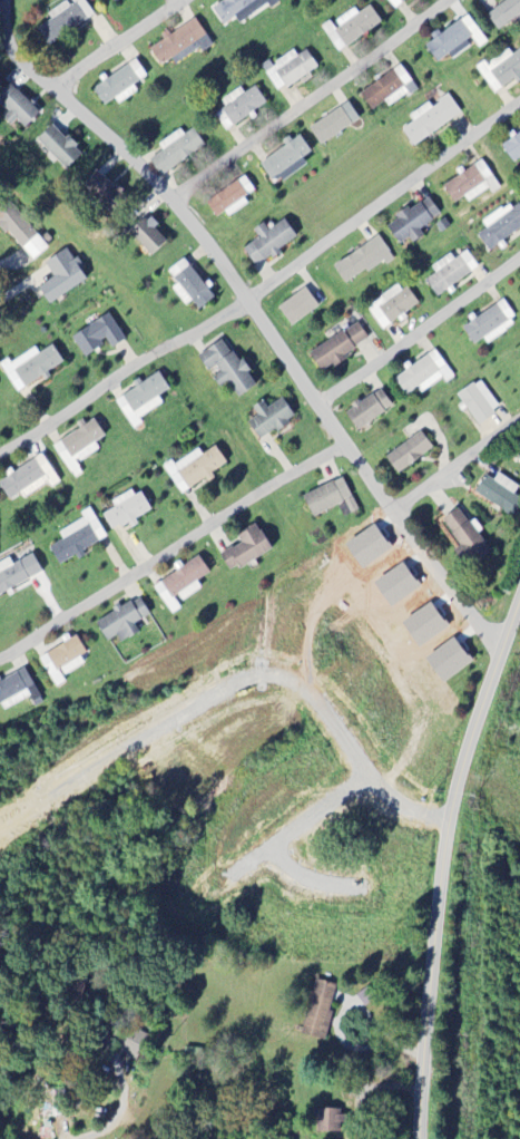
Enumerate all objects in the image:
building: (116, 0)
building: (395, 2)
building: (239, 10)
building: (504, 12)
building: (65, 20)
building: (351, 28)
building: (455, 40)
building: (180, 45)
road: (129, 48)
building: (290, 70)
building: (501, 70)
building: (120, 85)
building: (389, 89)
road: (312, 99)
building: (239, 107)
building: (17, 108)
building: (431, 119)
building: (334, 124)
building: (59, 148)
building: (512, 148)
building: (176, 150)
building: (285, 157)
building: (471, 184)
building: (102, 191)
building: (230, 199)
road: (385, 204)
building: (413, 222)
building: (500, 226)
building: (21, 232)
building: (148, 236)
building: (268, 242)
building: (363, 261)
building: (450, 273)
building: (62, 276)
building: (189, 286)
building: (519, 289)
building: (391, 306)
building: (297, 308)
road: (257, 310)
building: (490, 324)
road: (422, 331)
building: (98, 337)
building: (339, 348)
building: (30, 368)
building: (226, 368)
building: (424, 374)
road: (126, 377)
building: (141, 400)
building: (479, 402)
building: (369, 410)
building: (269, 419)
building: (79, 447)
building: (409, 452)
road: (461, 465)
building: (195, 469)
building: (29, 479)
building: (331, 499)
building: (126, 510)
building: (78, 538)
building: (465, 539)
road: (175, 549)
building: (246, 549)
building: (17, 574)
building: (180, 585)
building: (122, 622)
building: (424, 625)
building: (63, 661)
building: (448, 661)
building: (18, 691)
road: (440, 855)
building: (318, 1010)
building: (131, 1044)
road: (119, 1075)
building: (326, 1120)
road: (78, 1138)

